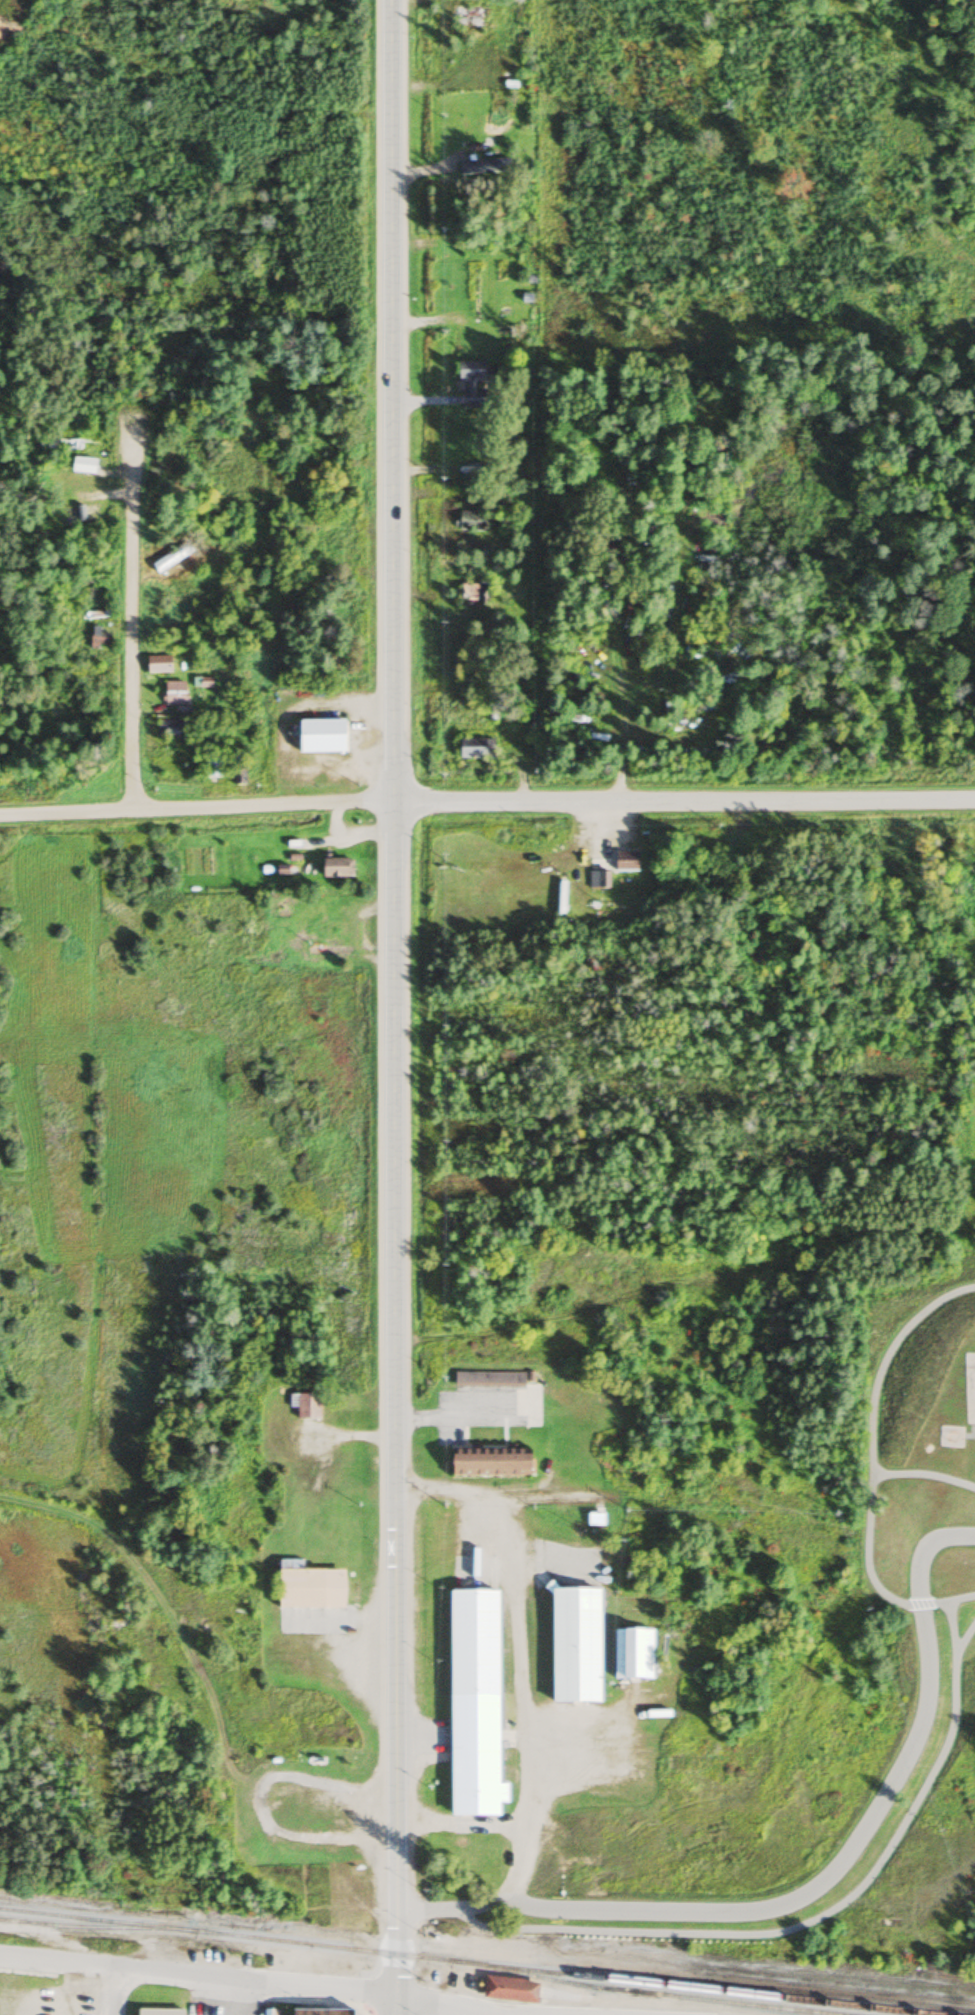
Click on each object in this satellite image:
building: (482, 167)
building: (474, 290)
building: (471, 383)
road: (391, 400)
building: (57, 444)
building: (79, 480)
building: (469, 520)
building: (170, 558)
building: (470, 594)
building: (98, 639)
road: (129, 646)
building: (157, 664)
building: (173, 693)
building: (172, 729)
building: (319, 737)
building: (474, 748)
building: (210, 766)
building: (236, 769)
road: (683, 797)
road: (196, 807)
building: (624, 862)
building: (335, 868)
building: (598, 881)
building: (335, 934)
building: (327, 951)
building: (488, 1380)
building: (304, 1406)
road: (399, 1407)
building: (489, 1461)
road: (703, 1563)
building: (307, 1587)
building: (574, 1646)
building: (631, 1655)
road: (529, 1686)
road: (592, 1695)
building: (473, 1705)
road: (455, 1906)
railway: (95, 1920)
railway: (94, 1927)
railway: (321, 1945)
road: (250, 1980)
railway: (688, 1988)
building: (509, 1989)
road: (112, 1991)
railway: (643, 1992)
building: (158, 2012)
building: (269, 2012)
building: (322, 2012)

